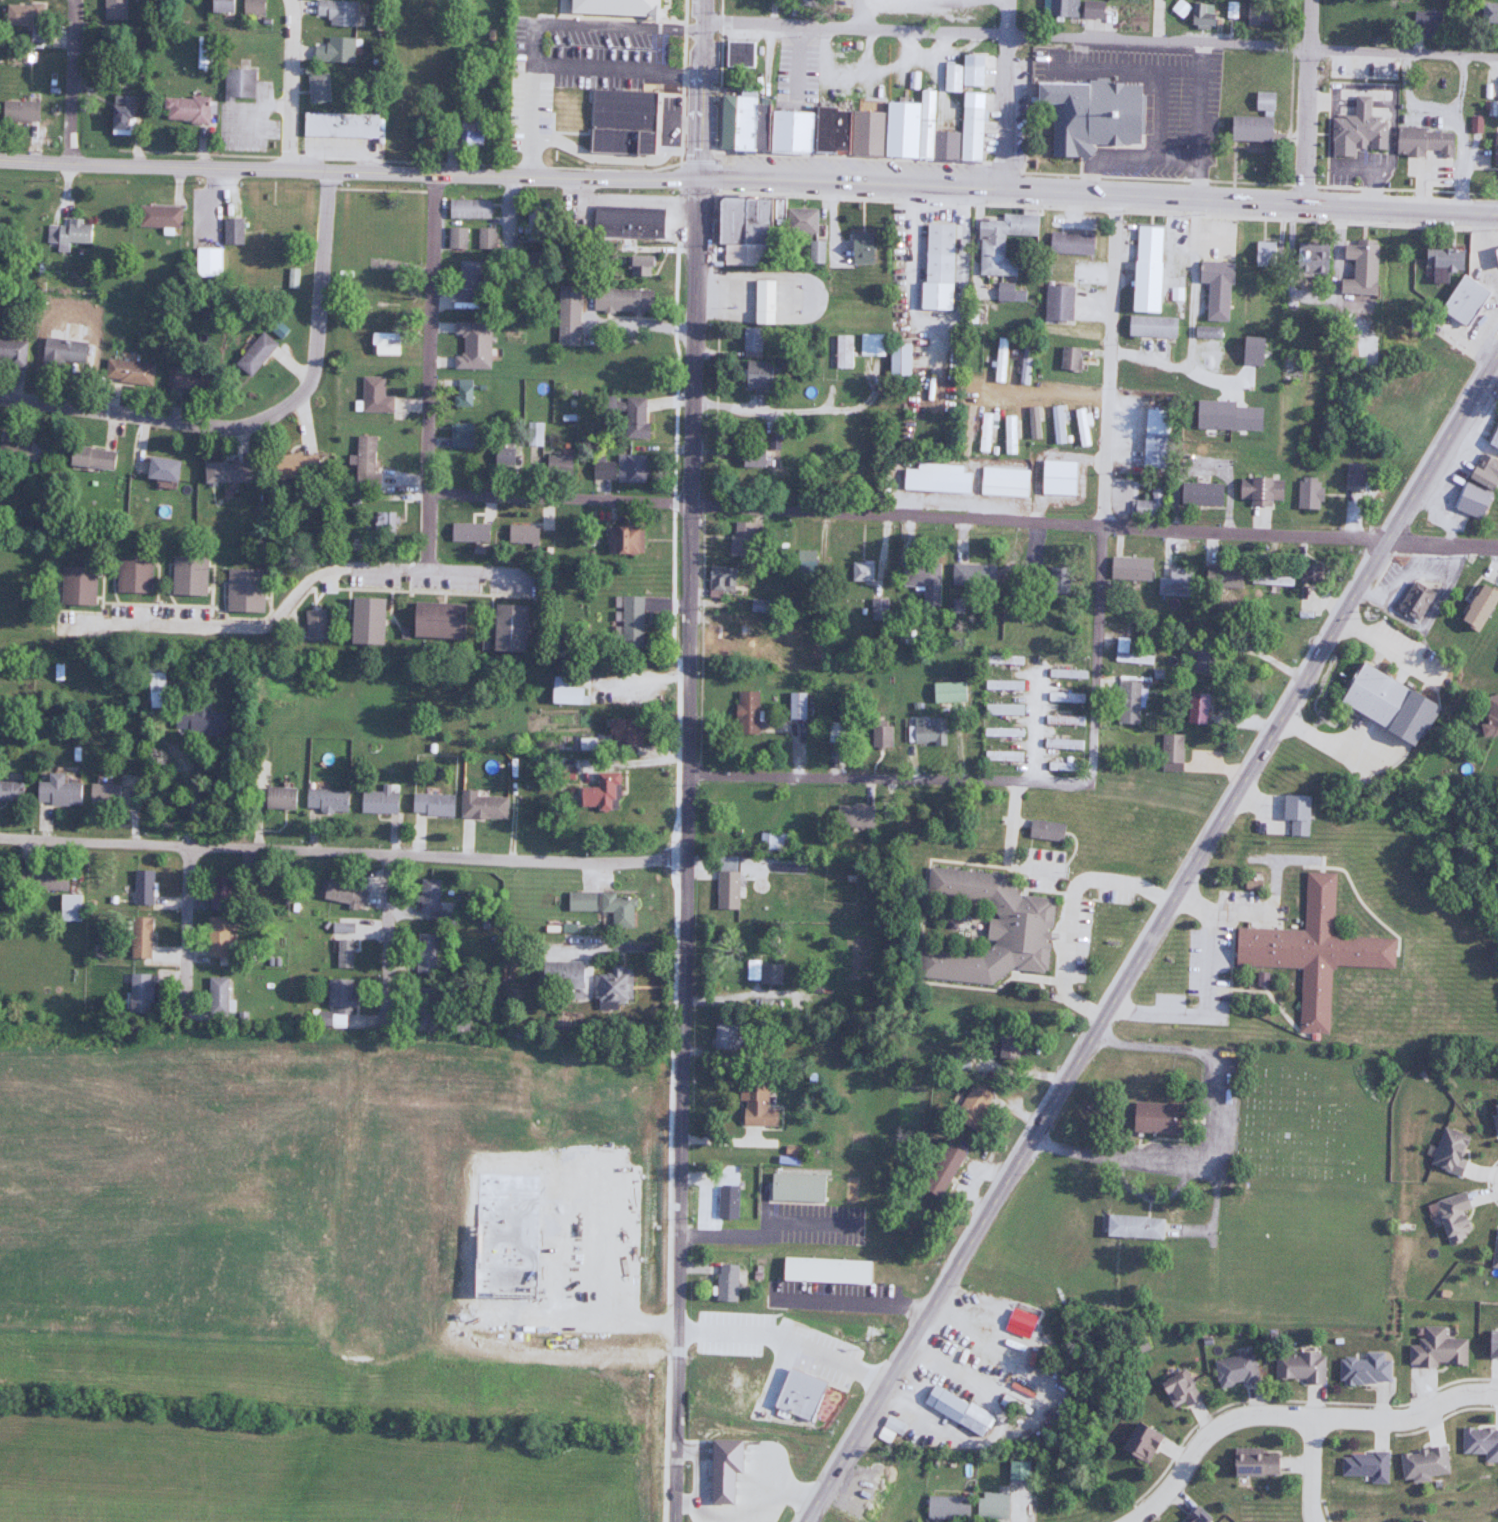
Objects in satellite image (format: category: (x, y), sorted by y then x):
building: (800, 2)
building: (749, 3)
building: (217, 6)
building: (252, 7)
building: (1058, 8)
building: (114, 9)
building: (1090, 9)
building: (337, 12)
building: (1256, 13)
building: (1489, 13)
building: (19, 14)
road: (859, 14)
building: (1200, 15)
building: (1425, 20)
building: (651, 34)
building: (36, 36)
road: (1098, 37)
building: (334, 51)
parking lot: (590, 51)
building: (739, 54)
building: (204, 60)
road: (72, 80)
building: (239, 84)
road: (291, 85)
building: (318, 88)
road: (698, 88)
road: (1006, 93)
road: (1407, 99)
road: (1307, 100)
building: (1262, 101)
parking lot: (1149, 105)
building: (185, 109)
building: (18, 112)
building: (120, 115)
building: (1088, 115)
building: (621, 122)
building: (860, 124)
building: (339, 125)
building: (1475, 127)
building: (1246, 129)
building: (1356, 130)
road: (1457, 133)
building: (471, 134)
building: (522, 140)
building: (565, 141)
building: (1422, 142)
building: (1494, 148)
road: (401, 160)
road: (701, 160)
road: (348, 172)
road: (720, 176)
road: (682, 177)
road: (1148, 177)
road: (1304, 185)
road: (1407, 188)
road: (379, 189)
road: (1098, 192)
road: (701, 193)
building: (468, 209)
building: (159, 216)
building: (274, 220)
building: (628, 221)
building: (800, 221)
building: (743, 230)
building: (232, 231)
building: (69, 234)
building: (457, 238)
building: (486, 238)
building: (999, 242)
building: (1070, 244)
building: (860, 249)
building: (816, 252)
gas station: (1496, 254)
building: (1264, 255)
building: (1495, 258)
building: (1308, 259)
building: (207, 263)
building: (1440, 264)
building: (638, 266)
building: (1145, 268)
building: (1357, 268)
building: (936, 269)
building: (467, 279)
building: (1214, 289)
building: (1008, 293)
gas station: (1465, 297)
building: (621, 301)
building: (1461, 301)
building: (761, 302)
building: (1055, 303)
building: (568, 316)
building: (1150, 326)
building: (751, 342)
building: (383, 343)
building: (870, 344)
building: (842, 351)
building: (12, 352)
building: (63, 352)
building: (253, 353)
building: (1066, 358)
building: (1000, 359)
road: (1110, 361)
building: (1024, 362)
building: (897, 363)
building: (1291, 367)
building: (128, 372)
road: (430, 372)
building: (756, 375)
building: (189, 379)
road: (1047, 392)
building: (463, 393)
building: (374, 396)
road: (798, 410)
building: (628, 414)
road: (264, 417)
building: (1033, 420)
building: (1057, 424)
building: (1081, 427)
building: (963, 430)
building: (984, 432)
building: (1008, 433)
building: (534, 434)
building: (461, 436)
building: (1493, 437)
building: (1150, 439)
building: (21, 450)
building: (749, 452)
building: (503, 457)
building: (88, 458)
building: (365, 464)
building: (285, 466)
building: (557, 466)
building: (159, 469)
building: (630, 469)
building: (602, 470)
building: (222, 472)
building: (1483, 473)
building: (1353, 475)
building: (936, 478)
building: (1057, 478)
building: (1003, 482)
building: (1258, 491)
building: (1307, 493)
building: (1198, 494)
road: (559, 499)
building: (1469, 500)
building: (384, 523)
road: (1094, 528)
building: (469, 532)
building: (522, 534)
building: (745, 536)
building: (623, 540)
building: (1128, 569)
building: (861, 570)
building: (1308, 574)
building: (132, 575)
building: (187, 577)
building: (971, 577)
building: (1219, 578)
building: (1270, 578)
building: (720, 579)
building: (518, 581)
building: (922, 581)
building: (1050, 583)
building: (1174, 583)
building: (77, 586)
building: (242, 591)
road: (295, 599)
building: (1412, 601)
building: (878, 607)
building: (1475, 608)
building: (434, 621)
building: (630, 622)
building: (363, 623)
building: (313, 625)
building: (508, 629)
building: (731, 631)
building: (1128, 654)
road: (1093, 658)
building: (1003, 659)
building: (1200, 661)
building: (1066, 672)
building: (59, 673)
building: (155, 677)
building: (1001, 684)
building: (945, 691)
building: (568, 695)
building: (1064, 696)
building: (1370, 696)
building: (1126, 702)
building: (796, 704)
building: (1001, 708)
building: (1194, 709)
building: (745, 711)
building: (194, 717)
building: (1489, 717)
building: (1062, 719)
road: (1034, 726)
building: (927, 729)
building: (1002, 731)
building: (879, 732)
building: (624, 735)
building: (1060, 743)
building: (1169, 751)
building: (1001, 755)
road: (887, 778)
building: (9, 789)
building: (55, 790)
building: (599, 791)
building: (101, 793)
building: (277, 796)
building: (325, 799)
building: (377, 799)
building: (430, 803)
building: (481, 804)
building: (740, 807)
building: (1294, 812)
building: (850, 816)
building: (1043, 829)
building: (774, 841)
road: (688, 849)
road: (343, 852)
building: (40, 878)
building: (142, 887)
building: (218, 888)
building: (725, 888)
building: (342, 894)
building: (427, 895)
building: (579, 901)
building: (70, 907)
building: (616, 908)
road: (1071, 910)
building: (982, 927)
road: (183, 930)
building: (215, 936)
building: (138, 937)
road: (1151, 937)
road: (390, 938)
building: (346, 945)
building: (1310, 950)
building: (425, 953)
building: (558, 973)
building: (729, 978)
building: (1260, 979)
building: (611, 985)
road: (1206, 990)
building: (138, 992)
building: (216, 994)
building: (420, 999)
building: (334, 1001)
building: (457, 1027)
building: (724, 1036)
building: (1006, 1048)
building: (754, 1105)
building: (970, 1105)
building: (1494, 1115)
building: (1149, 1117)
road: (1221, 1135)
building: (1448, 1150)
building: (941, 1170)
road: (1488, 1182)
building: (794, 1187)
building: (726, 1194)
building: (1449, 1217)
parking lot: (811, 1223)
building: (1132, 1226)
road: (763, 1229)
parking lot: (589, 1239)
building: (508, 1241)
building: (1494, 1251)
building: (724, 1282)
parking lot: (833, 1288)
road: (850, 1302)
road: (784, 1341)
parking lot: (779, 1344)
building: (1490, 1344)
building: (1435, 1349)
building: (1297, 1367)
building: (1233, 1370)
building: (1362, 1370)
building: (1175, 1390)
building: (800, 1394)
road: (1286, 1400)
building: (955, 1410)
road: (1295, 1416)
road: (1445, 1416)
building: (1480, 1442)
building: (1137, 1443)
building: (1251, 1462)
building: (1421, 1462)
building: (724, 1464)
building: (1364, 1465)
road: (693, 1469)
road: (1312, 1469)
building: (1016, 1470)
building: (990, 1505)
building: (945, 1506)
road: (1324, 1506)
road: (744, 1510)
building: (1195, 1516)
building: (1419, 1520)

